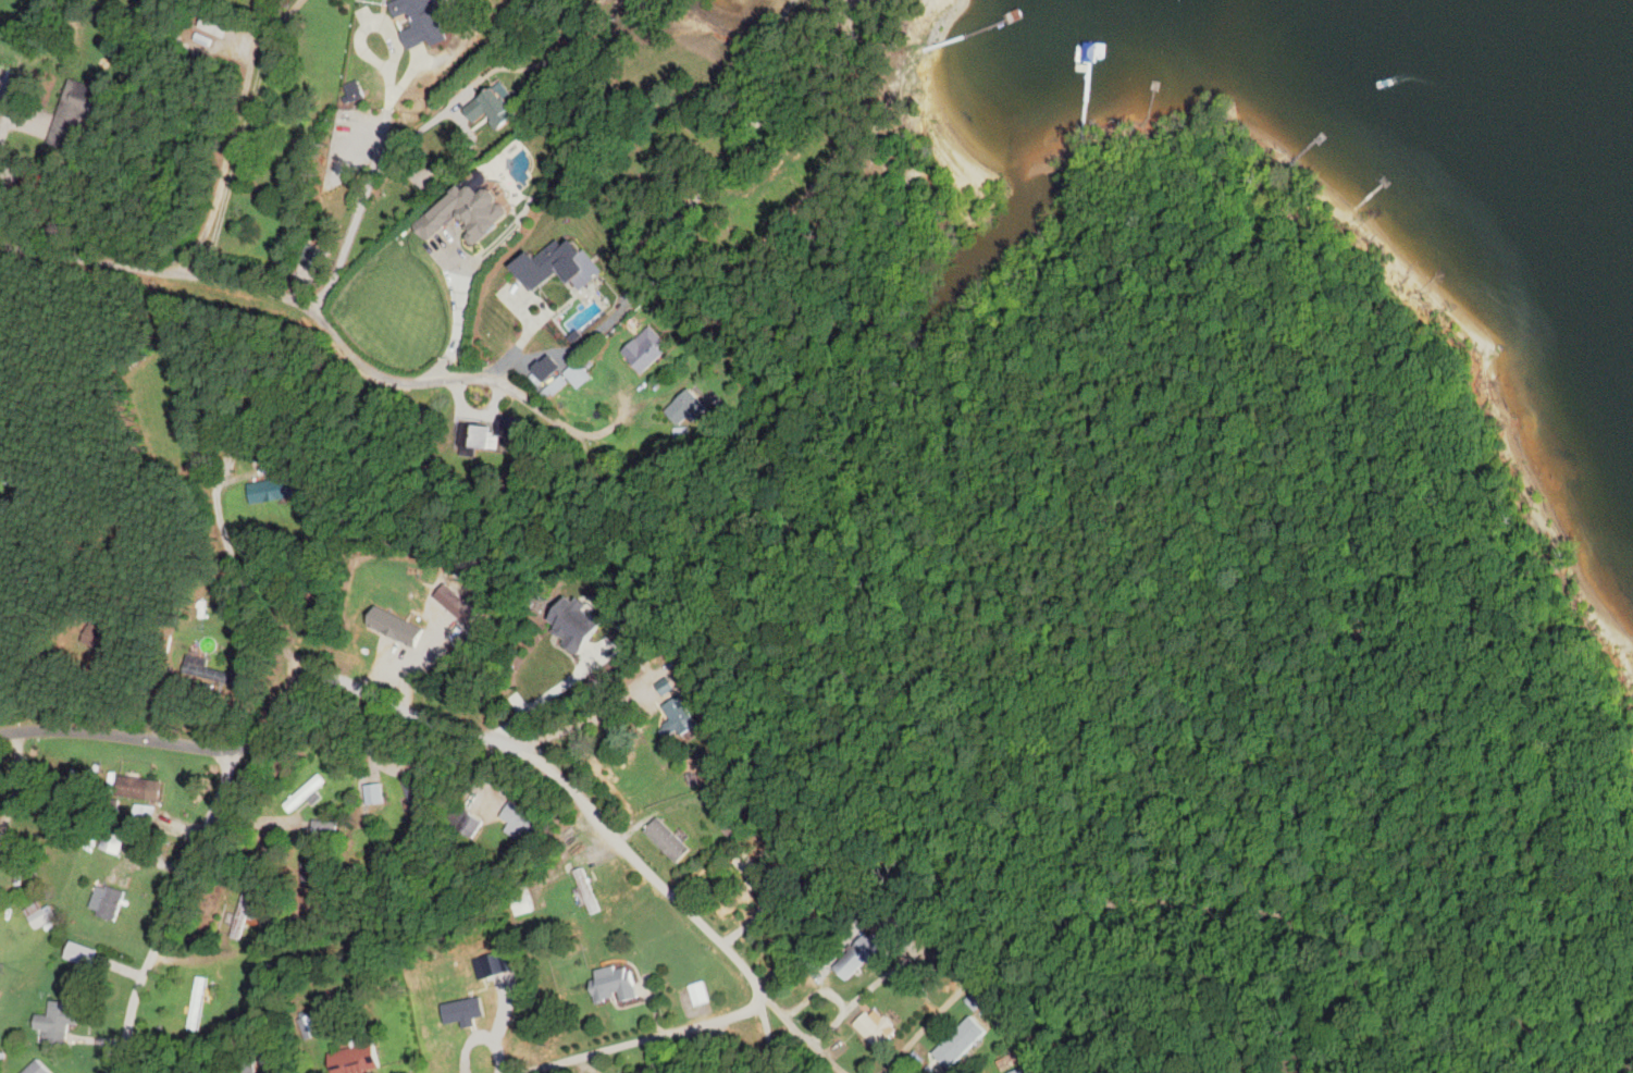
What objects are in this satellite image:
building: (415, 21)
building: (211, 25)
road: (394, 50)
road: (7, 108)
building: (486, 108)
building: (73, 111)
road: (243, 135)
road: (232, 139)
road: (446, 162)
road: (370, 177)
building: (556, 264)
road: (640, 266)
road: (456, 313)
road: (325, 317)
building: (645, 347)
building: (685, 407)
building: (482, 433)
road: (228, 481)
building: (269, 489)
building: (570, 624)
building: (203, 670)
building: (675, 719)
road: (585, 725)
road: (172, 741)
road: (17, 782)
building: (132, 787)
building: (302, 793)
building: (371, 793)
building: (418, 798)
building: (141, 813)
building: (519, 818)
building: (461, 821)
road: (606, 825)
building: (322, 828)
building: (665, 839)
building: (110, 840)
building: (584, 890)
building: (104, 900)
building: (519, 900)
road: (171, 908)
building: (245, 910)
building: (35, 914)
building: (77, 952)
building: (855, 957)
road: (938, 958)
building: (610, 982)
road: (817, 992)
building: (195, 1002)
building: (54, 1023)
building: (307, 1025)
building: (870, 1029)
road: (768, 1036)
road: (641, 1039)
building: (957, 1040)
building: (345, 1058)
building: (1030, 1069)
building: (928, 1070)

